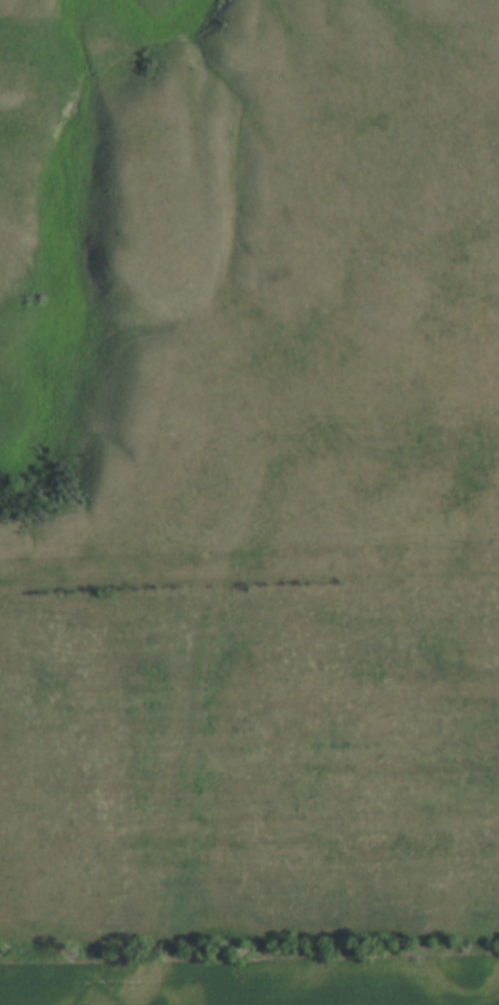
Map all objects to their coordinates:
road: (249, 592)

